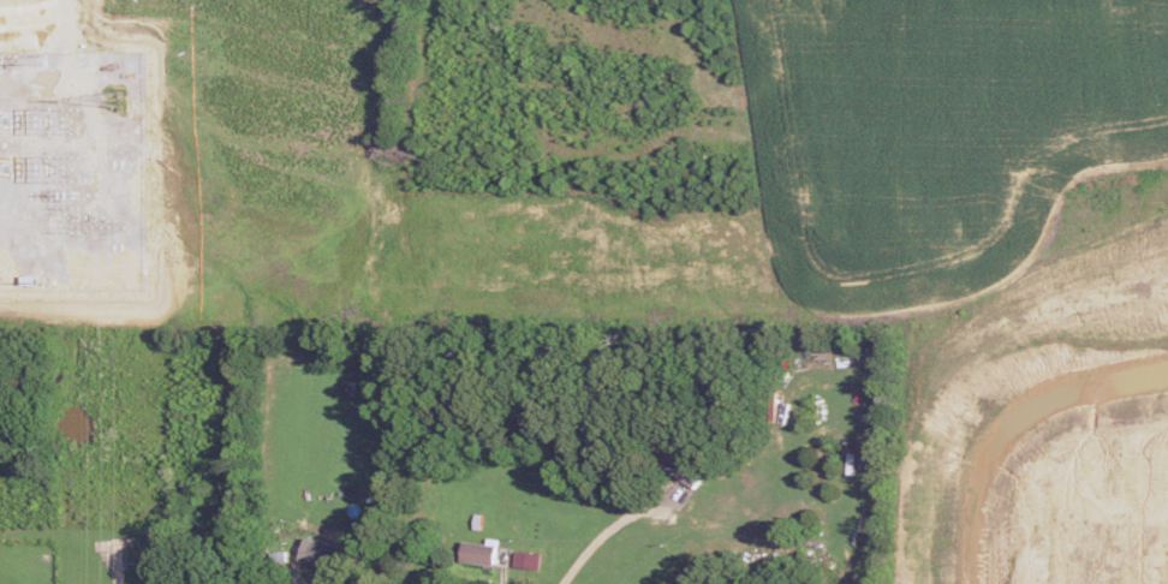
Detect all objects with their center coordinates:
road: (62, 24)
power tower: (112, 105)
power substation: (71, 169)
road: (703, 523)
building: (320, 553)
road: (433, 559)
building: (525, 559)

